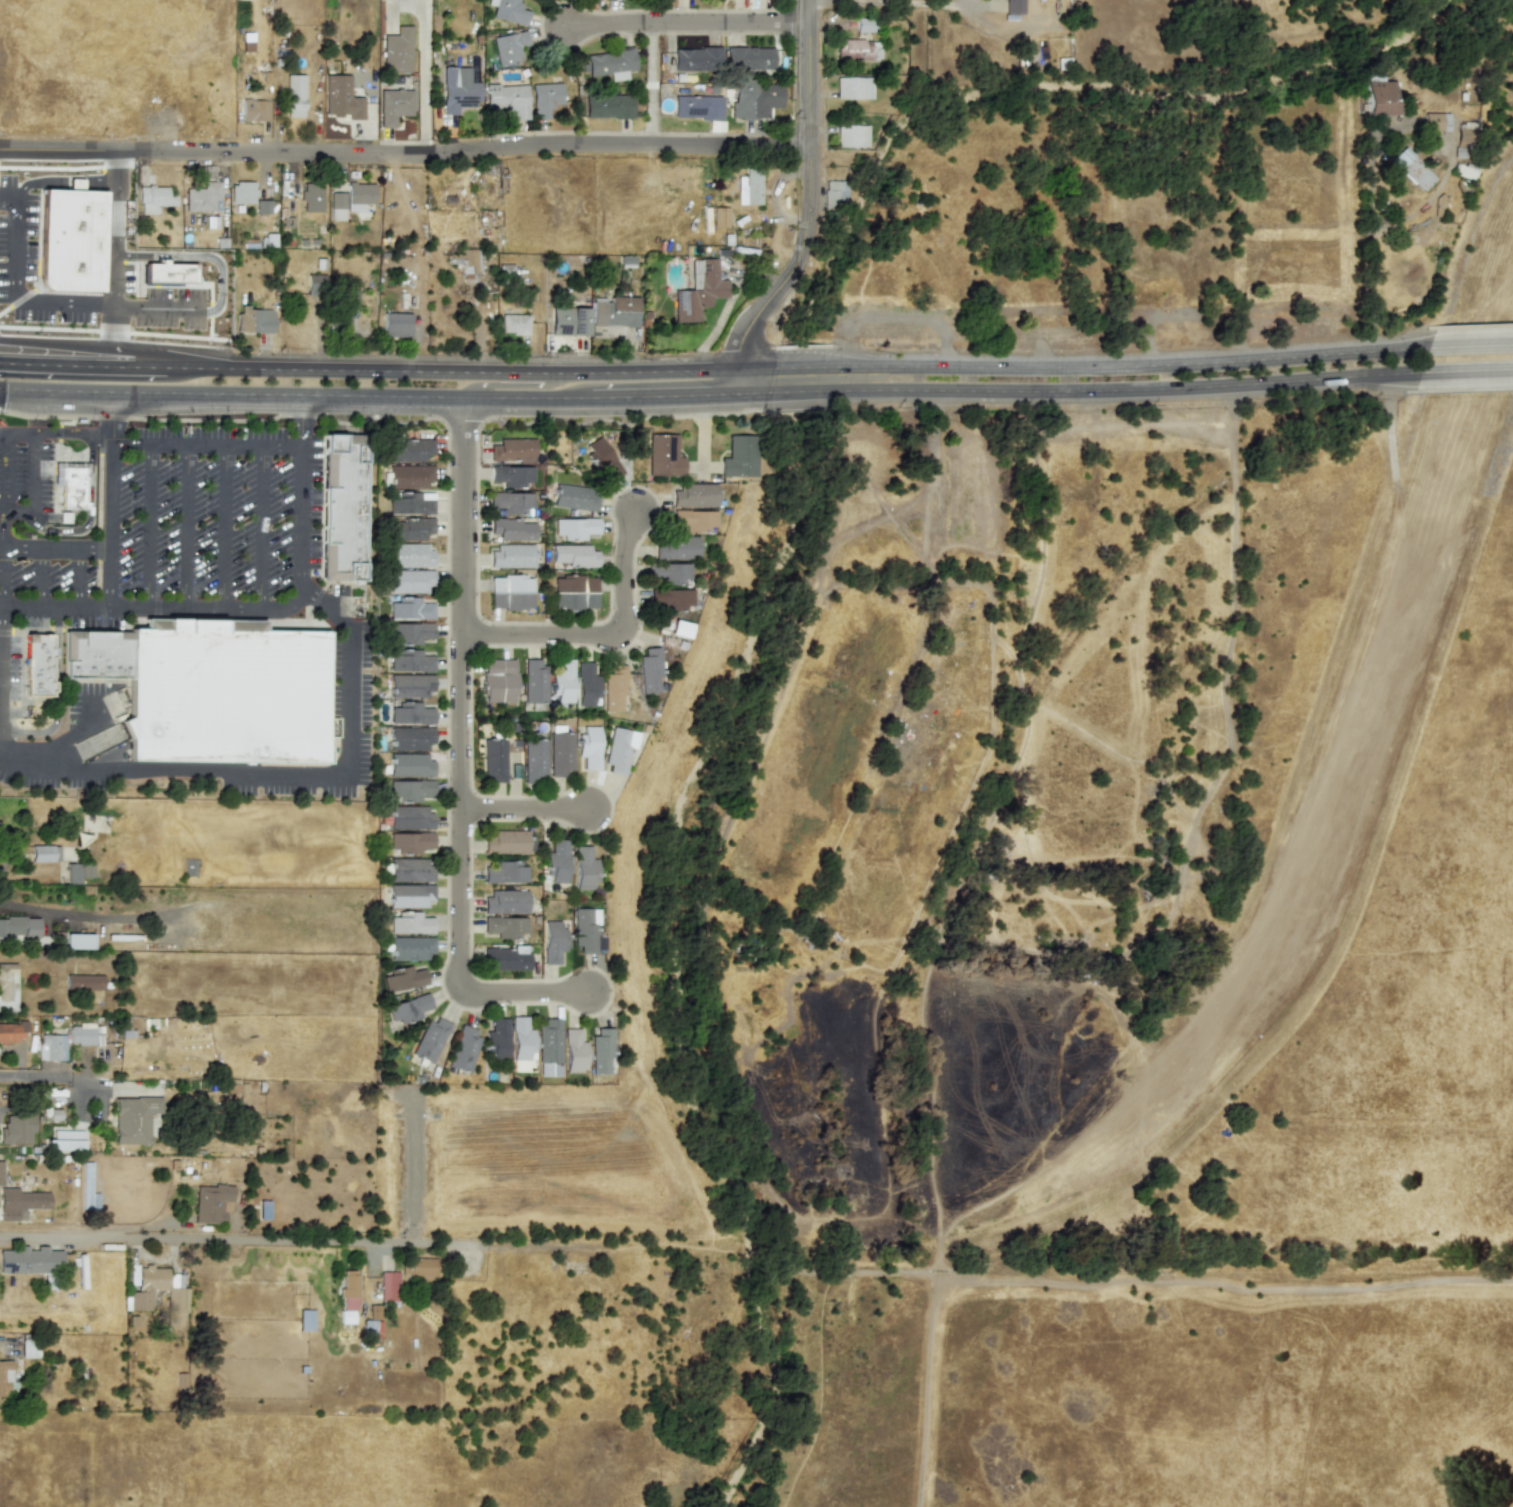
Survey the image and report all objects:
road: (915, 1)
building: (1013, 6)
building: (508, 11)
road: (687, 24)
building: (865, 24)
building: (507, 47)
building: (857, 48)
building: (396, 50)
building: (747, 58)
building: (696, 59)
road: (421, 63)
building: (610, 63)
road: (650, 86)
building: (853, 87)
building: (457, 90)
building: (293, 95)
building: (1376, 96)
building: (341, 97)
building: (506, 98)
building: (544, 98)
building: (754, 98)
building: (393, 105)
building: (607, 106)
building: (696, 107)
building: (254, 110)
building: (1435, 121)
building: (851, 135)
building: (1463, 136)
road: (405, 157)
road: (64, 167)
building: (1412, 168)
building: (1465, 170)
road: (59, 181)
building: (749, 186)
building: (241, 191)
building: (834, 193)
building: (203, 197)
building: (312, 197)
building: (153, 198)
building: (350, 199)
road: (8, 204)
building: (262, 206)
road: (808, 207)
building: (719, 217)
building: (71, 240)
parking lot: (17, 245)
road: (198, 256)
building: (468, 261)
building: (505, 270)
road: (37, 271)
building: (168, 272)
road: (114, 273)
building: (315, 284)
road: (179, 286)
building: (699, 290)
road: (15, 292)
road: (18, 299)
road: (113, 305)
road: (164, 308)
parking lot: (170, 309)
building: (614, 311)
parking lot: (52, 314)
building: (260, 320)
building: (569, 320)
building: (339, 323)
building: (513, 323)
building: (396, 324)
road: (113, 331)
road: (1470, 346)
road: (66, 364)
road: (149, 367)
road: (796, 367)
road: (1123, 367)
road: (756, 368)
road: (1467, 369)
road: (452, 370)
road: (509, 381)
road: (1118, 389)
road: (793, 390)
road: (755, 391)
road: (295, 394)
road: (665, 394)
road: (111, 410)
road: (295, 419)
road: (203, 444)
building: (514, 449)
building: (408, 450)
building: (663, 455)
building: (738, 456)
building: (602, 459)
road: (4, 467)
building: (411, 475)
building: (512, 475)
parking lot: (26, 477)
building: (71, 484)
road: (34, 488)
building: (694, 495)
building: (575, 497)
building: (330, 501)
building: (411, 503)
road: (325, 504)
road: (89, 510)
building: (347, 510)
parking lot: (217, 513)
road: (108, 519)
building: (694, 519)
road: (98, 525)
road: (149, 525)
road: (188, 525)
road: (224, 525)
road: (266, 526)
building: (575, 527)
building: (410, 529)
building: (513, 529)
road: (55, 547)
building: (675, 547)
building: (409, 554)
building: (574, 555)
building: (512, 556)
building: (667, 571)
road: (1244, 576)
road: (39, 577)
road: (81, 578)
building: (575, 592)
building: (671, 598)
road: (460, 601)
road: (314, 602)
road: (226, 607)
building: (410, 608)
road: (0, 620)
building: (201, 623)
road: (152, 624)
building: (679, 628)
building: (410, 632)
road: (602, 636)
building: (66, 649)
building: (97, 658)
building: (410, 660)
building: (37, 665)
building: (649, 670)
parking lot: (9, 672)
road: (21, 677)
building: (498, 680)
building: (534, 681)
building: (562, 681)
building: (586, 684)
building: (409, 685)
building: (613, 686)
road: (55, 694)
building: (226, 695)
building: (410, 713)
road: (74, 733)
building: (410, 738)
building: (588, 746)
building: (618, 749)
building: (560, 753)
building: (494, 759)
building: (535, 760)
building: (409, 765)
building: (515, 770)
road: (276, 772)
building: (410, 789)
road: (526, 808)
building: (410, 817)
road: (988, 831)
building: (410, 841)
building: (507, 841)
building: (44, 853)
building: (556, 861)
building: (583, 867)
building: (411, 869)
building: (78, 871)
building: (504, 872)
building: (410, 895)
building: (505, 901)
road: (90, 915)
building: (410, 923)
building: (505, 926)
building: (18, 927)
building: (584, 929)
road: (469, 938)
building: (78, 940)
building: (552, 941)
building: (410, 947)
building: (505, 957)
road: (455, 969)
building: (403, 978)
building: (84, 982)
building: (8, 986)
crop: (1224, 1000)
building: (407, 1008)
building: (11, 1031)
building: (84, 1034)
building: (520, 1038)
building: (429, 1039)
building: (495, 1039)
building: (51, 1046)
building: (547, 1047)
building: (464, 1049)
building: (599, 1049)
building: (571, 1050)
road: (46, 1075)
building: (55, 1110)
building: (133, 1118)
building: (16, 1128)
building: (64, 1144)
road: (678, 1150)
building: (1, 1172)
building: (87, 1188)
building: (20, 1202)
building: (211, 1202)
road: (309, 1239)
road: (776, 1254)
building: (30, 1260)
building: (418, 1268)
road: (1222, 1274)
building: (145, 1285)
building: (388, 1285)
building: (348, 1296)
building: (305, 1319)
building: (370, 1328)
building: (5, 1376)

